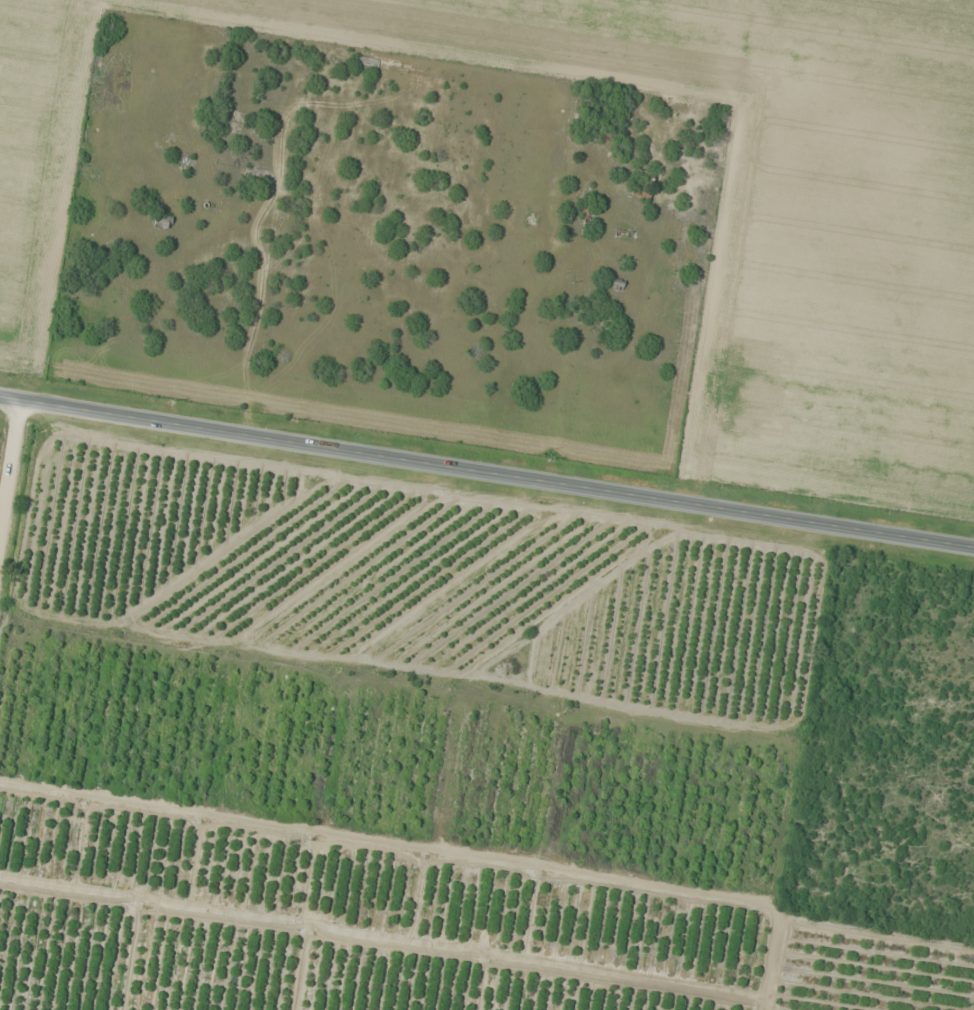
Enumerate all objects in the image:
building: (646, 175)
building: (643, 191)
building: (163, 223)
road: (567, 365)
road: (9, 460)
road: (486, 471)

